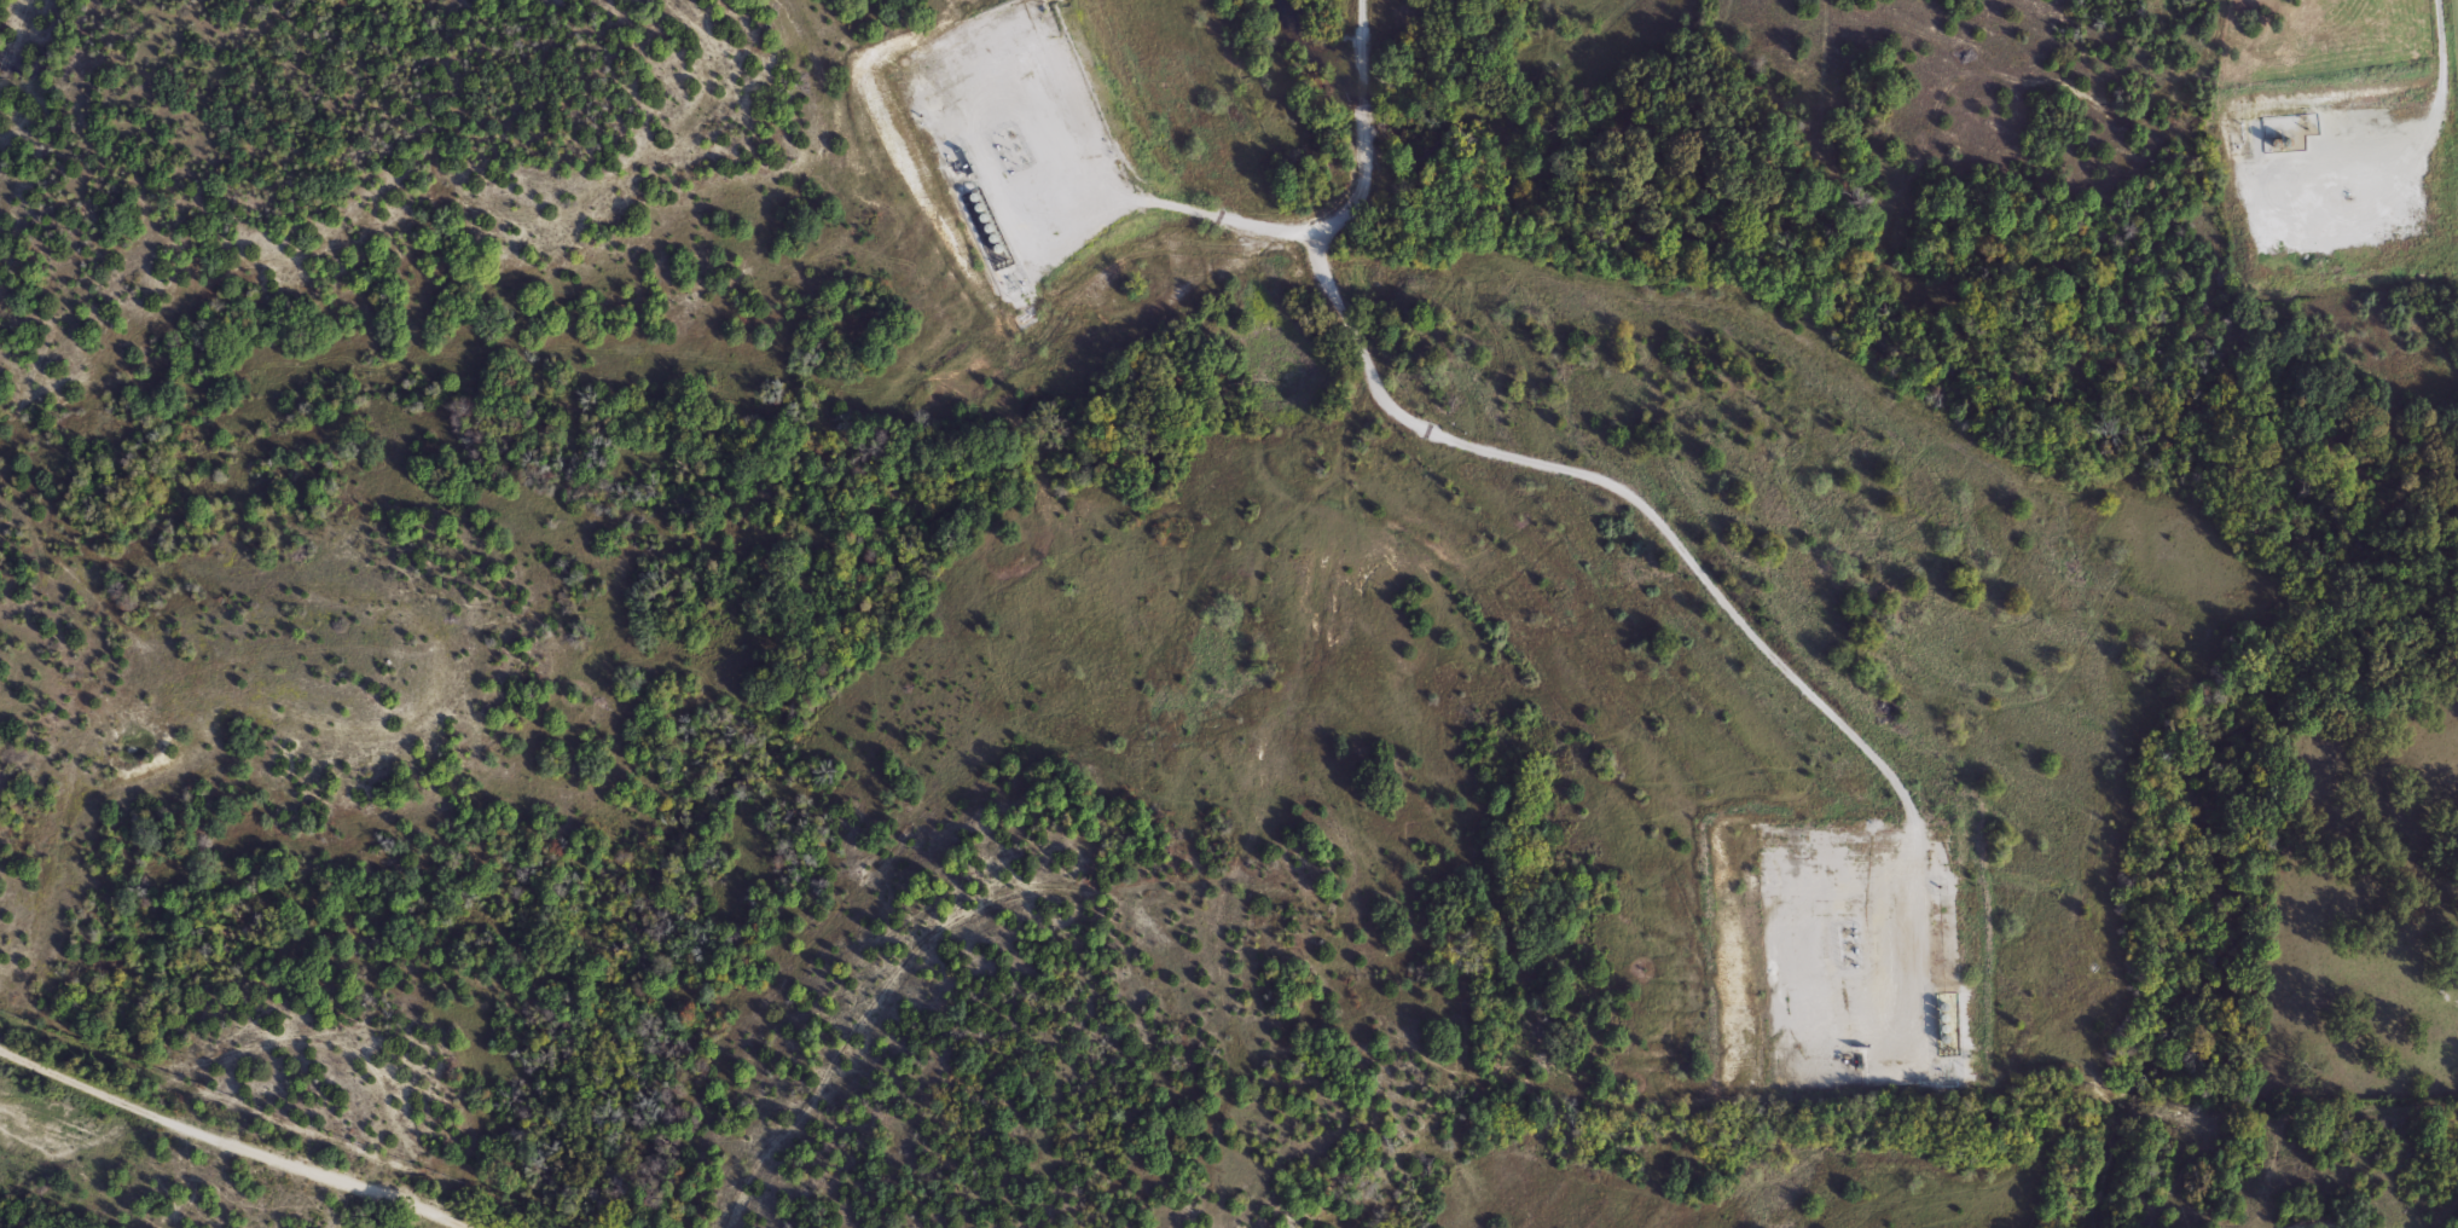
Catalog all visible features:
road: (2441, 118)
building: (2290, 132)
road: (1350, 208)
road: (1223, 213)
road: (1676, 540)
road: (224, 1141)

